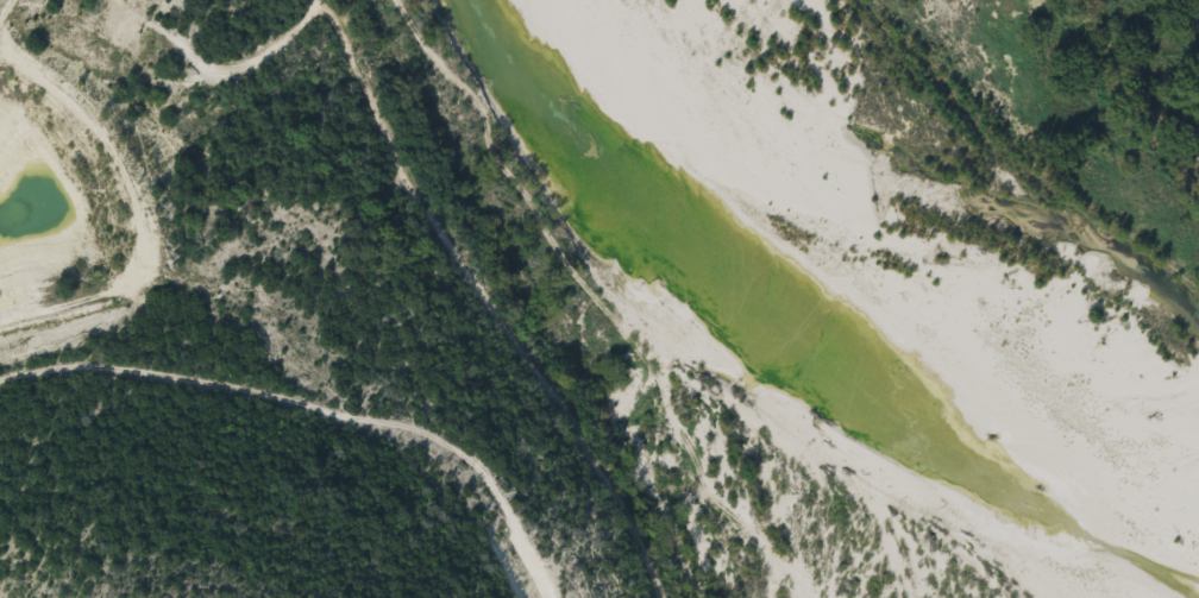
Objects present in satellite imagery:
river: (918, 292)

